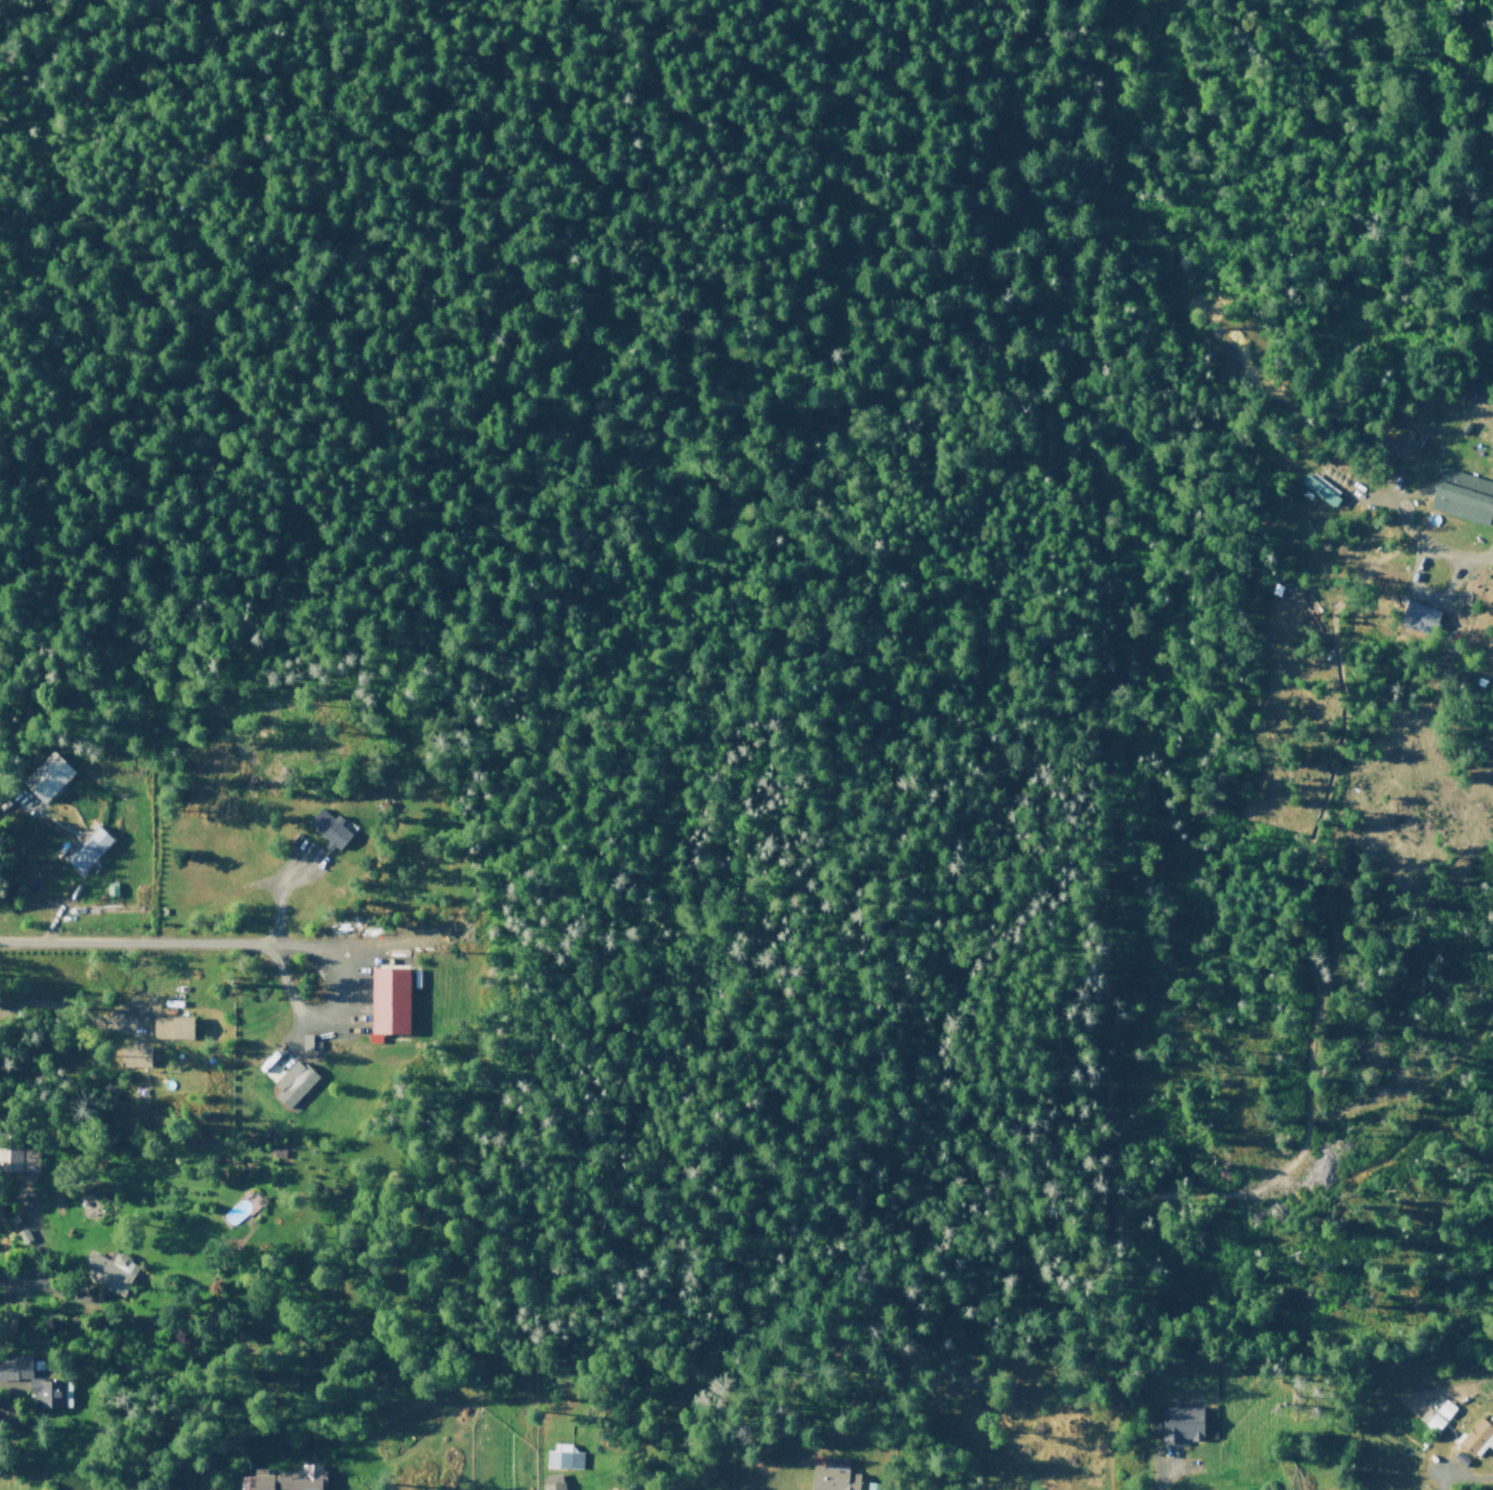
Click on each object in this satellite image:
building: (1319, 489)
building: (1464, 496)
road: (1380, 511)
road: (1464, 559)
road: (1426, 595)
building: (1414, 624)
road: (1094, 746)
building: (49, 778)
road: (15, 801)
building: (330, 830)
building: (88, 850)
building: (109, 888)
road: (278, 898)
road: (1303, 940)
road: (125, 943)
road: (350, 944)
road: (362, 953)
road: (332, 995)
road: (284, 998)
building: (387, 1006)
road: (68, 1018)
building: (169, 1031)
building: (133, 1057)
building: (295, 1087)
road: (1415, 1089)
road: (1448, 1131)
building: (18, 1157)
building: (22, 1234)
road: (37, 1240)
building: (108, 1275)
road: (47, 1290)
building: (14, 1367)
building: (49, 1394)
road: (8, 1404)
building: (1436, 1413)
building: (1178, 1426)
building: (1476, 1439)
building: (561, 1459)
road: (1172, 1470)
road: (1467, 1476)
building: (290, 1479)
building: (832, 1480)
road: (1441, 1481)
building: (550, 1482)
building: (871, 1487)

